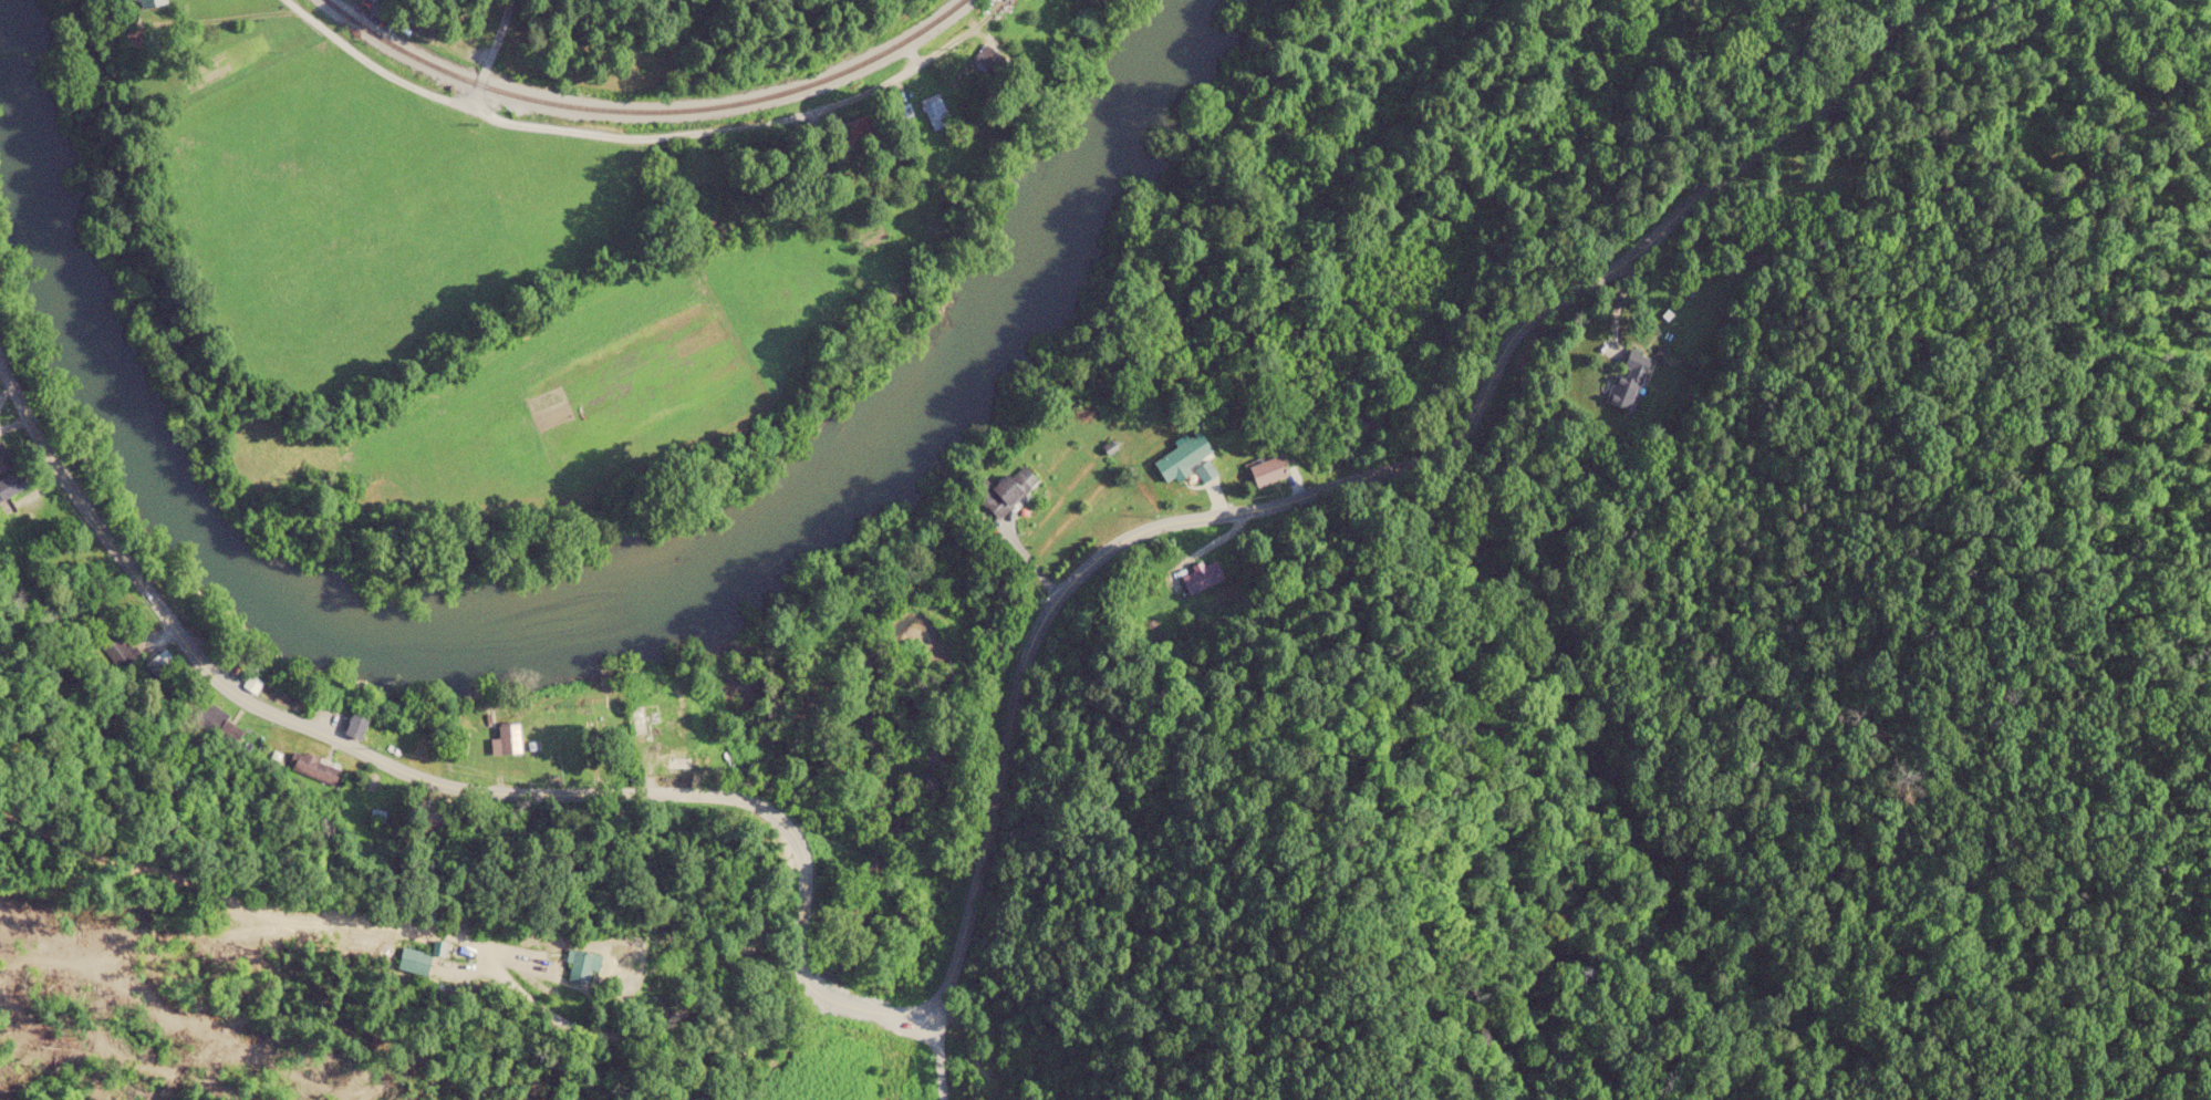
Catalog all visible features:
building: (149, 2)
road: (488, 53)
building: (987, 60)
building: (934, 111)
railway: (644, 112)
building: (851, 134)
road: (640, 136)
building: (1628, 380)
building: (1181, 457)
building: (3, 461)
building: (1204, 470)
building: (1266, 470)
road: (66, 482)
road: (1348, 482)
building: (10, 484)
building: (1011, 487)
building: (1201, 575)
river: (531, 630)
building: (159, 663)
building: (355, 726)
building: (506, 739)
building: (678, 761)
building: (313, 767)
road: (463, 776)
road: (798, 936)
building: (413, 961)
building: (581, 964)
road: (870, 1010)
road: (665, 1037)
road: (934, 1055)

